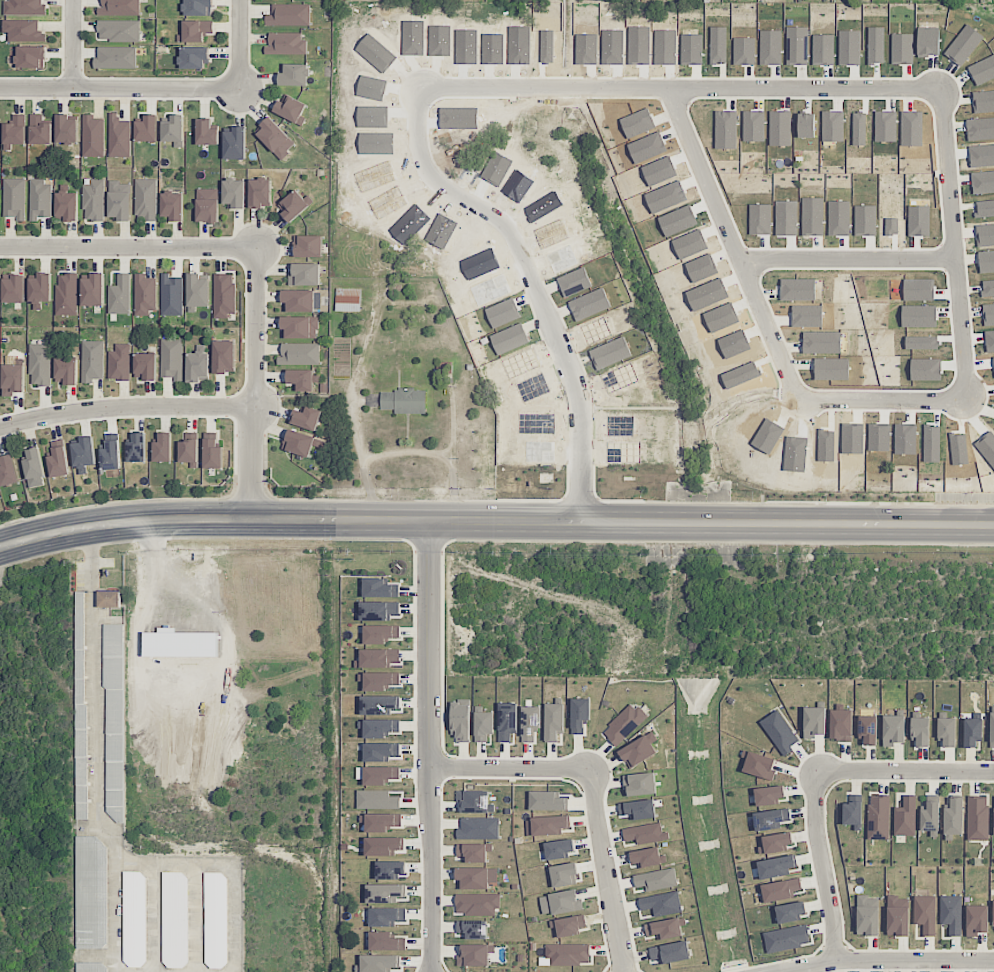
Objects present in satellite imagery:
building: (24, 7)
building: (120, 7)
building: (198, 7)
building: (289, 15)
building: (23, 30)
building: (119, 30)
building: (196, 30)
road: (74, 44)
building: (286, 44)
road: (242, 45)
building: (30, 57)
building: (116, 57)
building: (194, 58)
building: (294, 75)
road: (121, 89)
road: (835, 89)
building: (291, 109)
building: (172, 128)
building: (66, 129)
building: (147, 129)
building: (40, 130)
building: (14, 131)
building: (206, 133)
building: (93, 136)
building: (119, 136)
building: (275, 138)
building: (235, 143)
building: (233, 193)
building: (260, 193)
building: (14, 198)
building: (40, 199)
building: (146, 199)
building: (93, 200)
building: (119, 200)
building: (293, 204)
building: (67, 205)
building: (172, 205)
building: (207, 205)
building: (985, 235)
building: (308, 246)
road: (129, 248)
road: (849, 260)
building: (986, 261)
building: (305, 274)
building: (988, 288)
building: (13, 289)
building: (40, 289)
building: (919, 289)
building: (93, 290)
building: (197, 291)
building: (67, 294)
building: (144, 294)
building: (120, 295)
building: (171, 295)
building: (224, 295)
building: (347, 300)
building: (301, 301)
building: (988, 314)
building: (919, 316)
building: (299, 327)
building: (989, 341)
building: (922, 342)
building: (299, 353)
building: (224, 356)
building: (171, 359)
building: (92, 361)
building: (119, 362)
building: (40, 364)
building: (198, 364)
building: (145, 366)
building: (926, 368)
building: (66, 371)
building: (13, 379)
building: (301, 379)
road: (255, 383)
building: (404, 401)
road: (126, 409)
building: (307, 418)
building: (300, 442)
building: (931, 443)
building: (987, 446)
building: (163, 447)
building: (136, 448)
building: (959, 448)
building: (188, 451)
building: (111, 452)
road: (440, 453)
building: (84, 454)
building: (58, 460)
road: (367, 461)
building: (34, 468)
building: (8, 470)
road: (495, 522)
building: (137, 572)
building: (378, 588)
building: (109, 599)
building: (378, 610)
building: (380, 634)
building: (379, 658)
building: (379, 680)
road: (97, 693)
building: (80, 703)
building: (379, 705)
building: (579, 714)
building: (507, 721)
building: (553, 721)
building: (814, 721)
building: (114, 722)
building: (461, 722)
building: (529, 722)
building: (624, 724)
building: (841, 725)
building: (483, 726)
building: (380, 727)
building: (868, 729)
building: (893, 730)
building: (992, 730)
building: (972, 731)
building: (779, 732)
building: (921, 732)
building: (947, 732)
road: (427, 746)
building: (639, 750)
building: (381, 752)
building: (759, 765)
road: (510, 769)
road: (904, 770)
building: (380, 775)
building: (640, 784)
building: (770, 795)
building: (377, 800)
building: (475, 801)
building: (548, 801)
building: (853, 814)
building: (878, 817)
building: (906, 817)
building: (930, 817)
building: (954, 817)
building: (978, 818)
building: (771, 819)
building: (382, 822)
building: (549, 825)
building: (479, 828)
building: (993, 829)
building: (646, 833)
building: (775, 843)
building: (383, 846)
building: (558, 849)
building: (473, 853)
building: (647, 857)
road: (227, 864)
road: (820, 865)
building: (776, 867)
building: (390, 869)
road: (604, 870)
building: (564, 875)
building: (476, 878)
building: (657, 879)
building: (780, 890)
building: (90, 892)
building: (384, 893)
building: (560, 902)
building: (662, 903)
building: (477, 904)
building: (791, 912)
road: (116, 913)
building: (925, 913)
building: (951, 913)
building: (993, 913)
building: (387, 916)
building: (867, 916)
building: (897, 916)
building: (134, 919)
building: (175, 920)
building: (216, 920)
building: (976, 920)
building: (570, 925)
building: (665, 928)
building: (473, 929)
building: (787, 938)
building: (386, 941)
building: (671, 952)
building: (475, 955)
building: (566, 955)
road: (883, 959)
building: (379, 963)
building: (91, 967)

